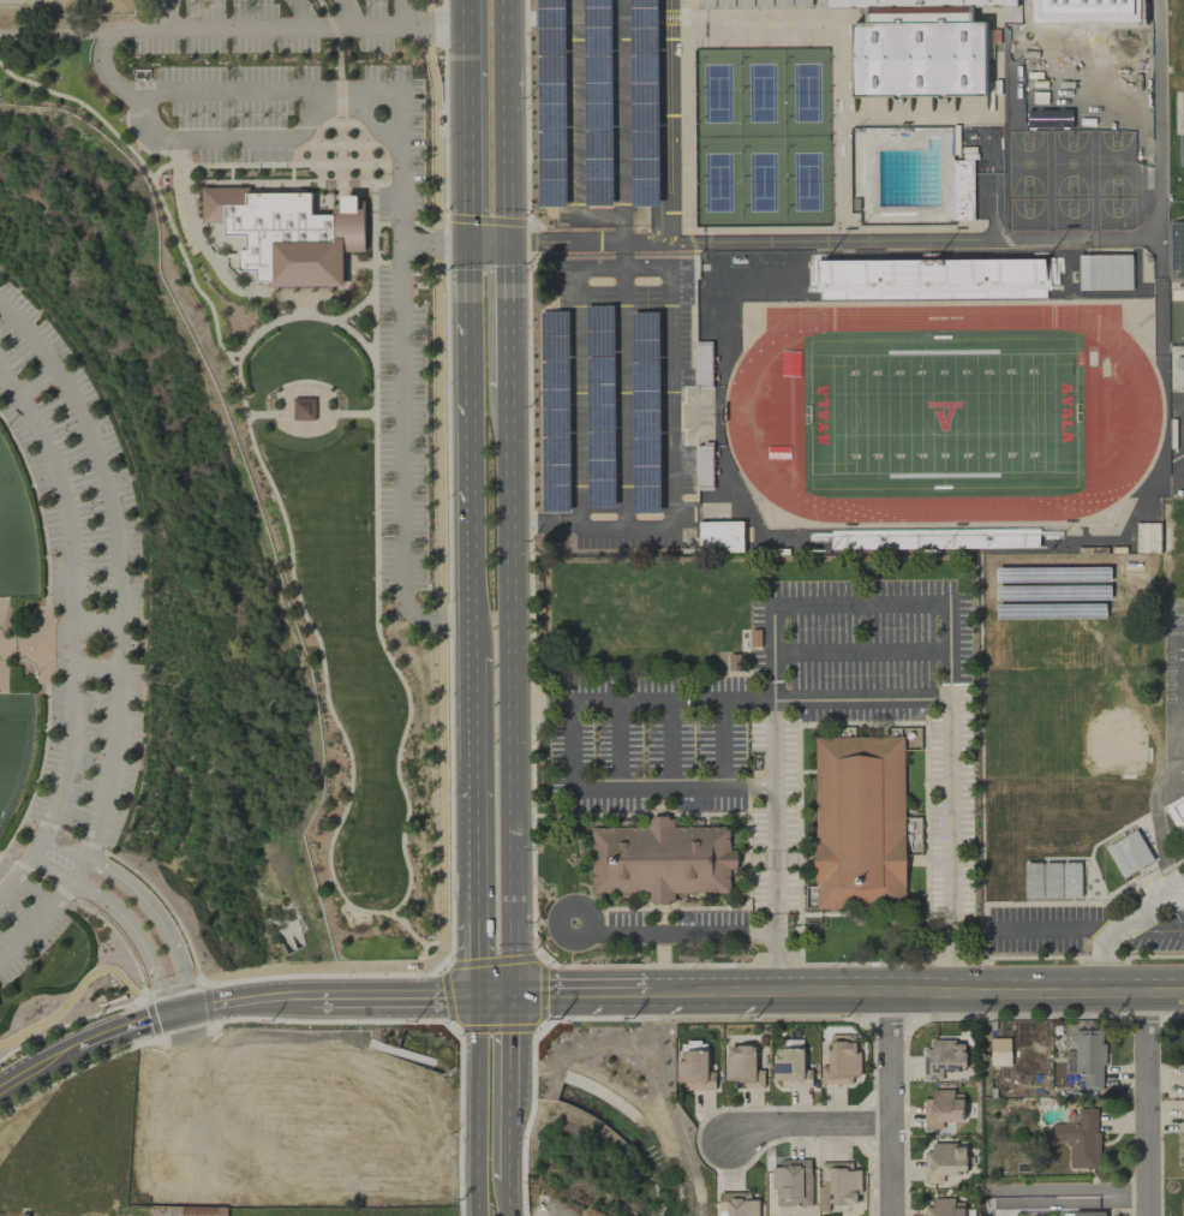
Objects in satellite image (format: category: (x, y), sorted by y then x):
park: (30, 2)
road: (1021, 6)
road: (323, 7)
road: (466, 12)
road: (165, 13)
road: (304, 13)
road: (351, 13)
road: (403, 13)
road: (665, 14)
rooftop solar panel: (597, 18)
rooftop solar panel: (646, 19)
rooftop solar panel: (554, 25)
road: (755, 26)
road: (250, 28)
road: (333, 28)
building: (920, 48)
road: (340, 61)
park: (1182, 82)
road: (262, 93)
rooftop solar panel: (648, 93)
park: (806, 93)
rooftop solar panel: (551, 94)
park: (717, 94)
park: (761, 94)
rooftop solar panel: (600, 95)
road: (340, 100)
road: (621, 106)
road: (85, 107)
parking lot: (597, 108)
building: (597, 115)
road: (657, 119)
road: (674, 119)
road: (506, 120)
road: (575, 127)
road: (467, 133)
road: (223, 139)
road: (340, 141)
rooftop solar panel: (600, 166)
rooftop solar panel: (554, 167)
road: (291, 172)
road: (229, 173)
rooftop solar panel: (647, 173)
road: (261, 180)
park: (807, 181)
park: (717, 183)
park: (763, 183)
building: (962, 190)
road: (622, 226)
building: (288, 236)
road: (1048, 239)
road: (602, 240)
traffic signals: (468, 242)
road: (488, 242)
traffic signals: (507, 242)
road: (435, 243)
road: (202, 248)
road: (223, 258)
road: (359, 263)
building: (1177, 272)
building: (873, 282)
road: (304, 294)
parking lot: (395, 298)
road: (304, 302)
road: (354, 308)
road: (299, 315)
road: (507, 315)
rooftop solar panel: (602, 320)
road: (468, 322)
rooftop solar panel: (648, 327)
rooftop solar panel: (600, 338)
rooftop solar panel: (646, 350)
road: (233, 352)
building: (704, 365)
rooftop solar panel: (600, 370)
building: (1179, 372)
rooftop solar panel: (646, 380)
road: (38, 381)
road: (401, 387)
rooftop solar panel: (600, 394)
parking lot: (623, 398)
rooftop solar panel: (647, 400)
building: (303, 407)
track: (737, 413)
park: (943, 413)
road: (311, 415)
rooftop solar panel: (600, 419)
rooftop solar panel: (646, 425)
rooftop solar panel: (599, 441)
rooftop solar panel: (647, 451)
road: (670, 458)
building: (705, 465)
rooftop solar panel: (599, 470)
park: (2, 476)
rooftop solar panel: (645, 476)
rooftop solar panel: (600, 495)
rooftop solar panel: (645, 497)
road: (472, 512)
road: (545, 527)
building: (720, 536)
building: (1147, 536)
road: (118, 562)
road: (72, 595)
road: (1, 604)
road: (860, 604)
park: (339, 606)
road: (96, 621)
parking lot: (73, 628)
road: (26, 646)
road: (861, 650)
road: (97, 666)
road: (2, 667)
road: (476, 678)
road: (509, 691)
road: (641, 698)
road: (861, 698)
park: (71, 702)
park: (14, 746)
building: (1183, 770)
road: (629, 788)
building: (1176, 811)
building: (860, 823)
road: (37, 844)
road: (65, 845)
building: (1128, 853)
building: (660, 859)
road: (477, 865)
road: (52, 866)
road: (80, 868)
street lamp: (132, 870)
road: (16, 875)
road: (339, 893)
road: (1148, 910)
road: (401, 912)
road: (159, 919)
road: (38, 922)
road: (1053, 929)
road: (1150, 929)
road: (674, 931)
road: (411, 934)
road: (137, 935)
road: (433, 942)
road: (1102, 958)
road: (1150, 958)
road: (1034, 959)
road: (1102, 959)
road: (975, 961)
road: (953, 962)
road: (776, 965)
road: (865, 965)
road: (653, 966)
street lamp: (197, 968)
road: (1036, 990)
road: (728, 991)
road: (849, 991)
road: (580, 994)
road: (495, 995)
traffic signals: (513, 995)
traffic signals: (478, 996)
road: (370, 997)
road: (228, 1002)
road: (180, 1012)
road: (1174, 1013)
road: (1148, 1014)
road: (1024, 1015)
road: (699, 1017)
road: (889, 1017)
road: (118, 1031)
building: (1000, 1051)
building: (1089, 1057)
building: (943, 1059)
road: (534, 1061)
building: (841, 1062)
building: (742, 1067)
building: (791, 1067)
rooftop solar panel: (784, 1068)
building: (694, 1069)
road: (34, 1071)
road: (510, 1084)
road: (1146, 1102)
road: (890, 1103)
road: (477, 1105)
road: (611, 1108)
building: (943, 1108)
road: (806, 1126)
building: (1080, 1138)
building: (944, 1161)
building: (793, 1182)
building: (837, 1185)
road: (509, 1194)
road: (1066, 1197)
building: (1183, 1199)
building: (737, 1204)
building: (944, 1208)

